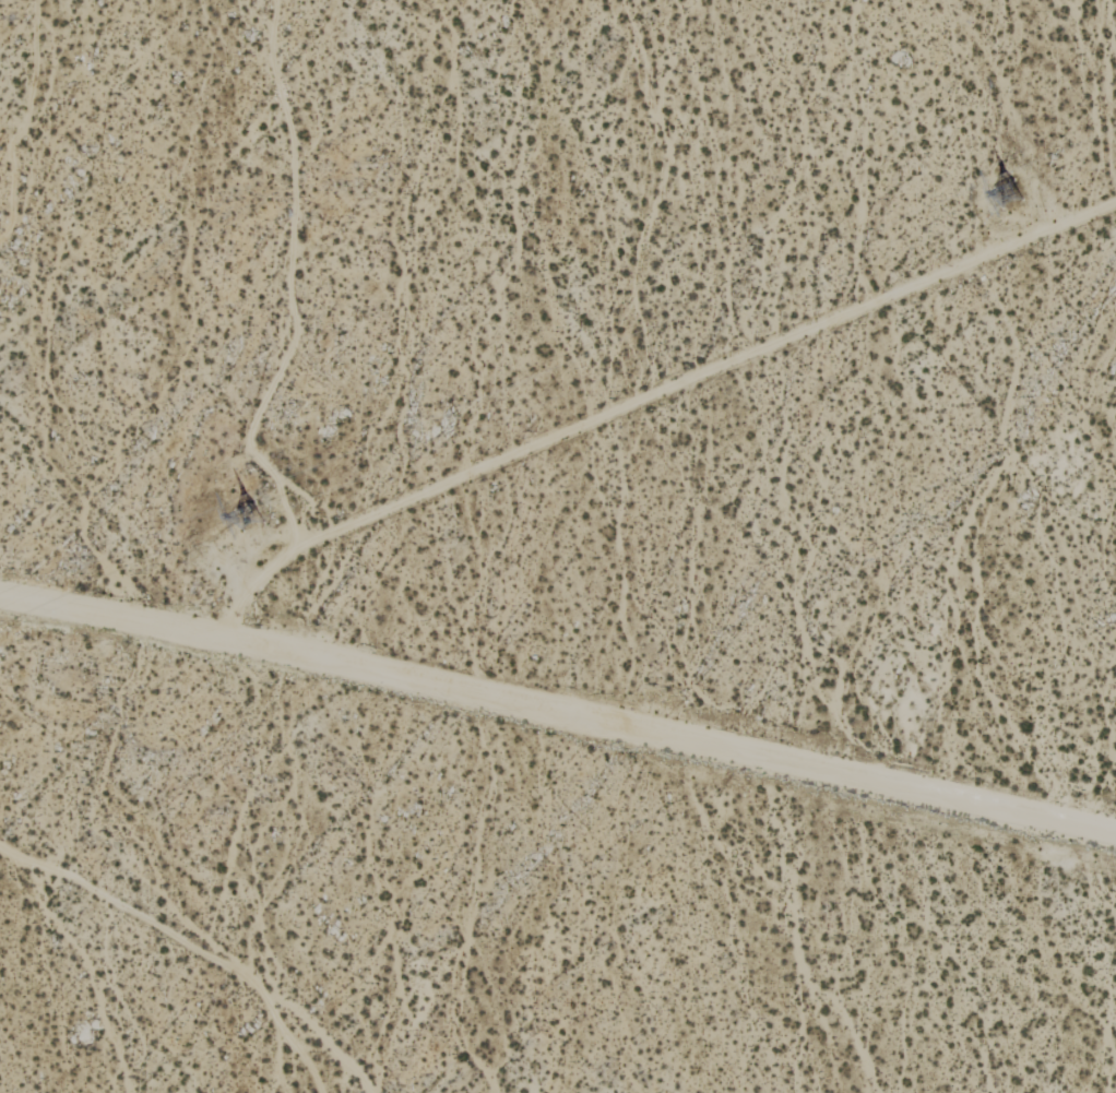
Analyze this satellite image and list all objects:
power tower: (1014, 198)
road: (642, 397)
power tower: (256, 521)
road: (558, 713)

